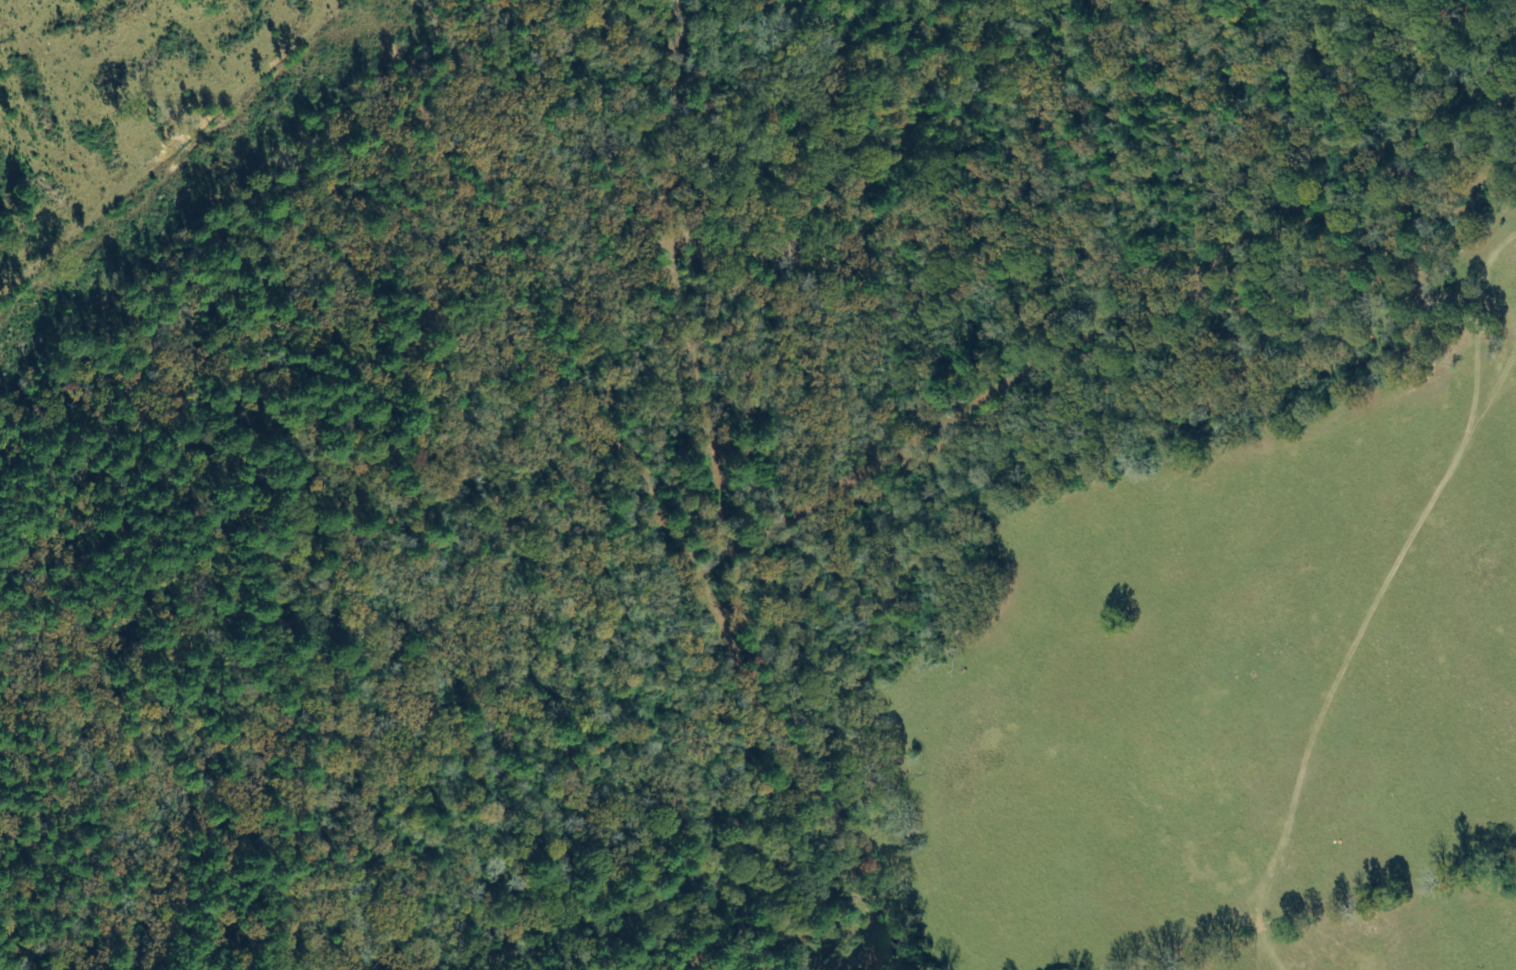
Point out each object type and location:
road: (1470, 470)

